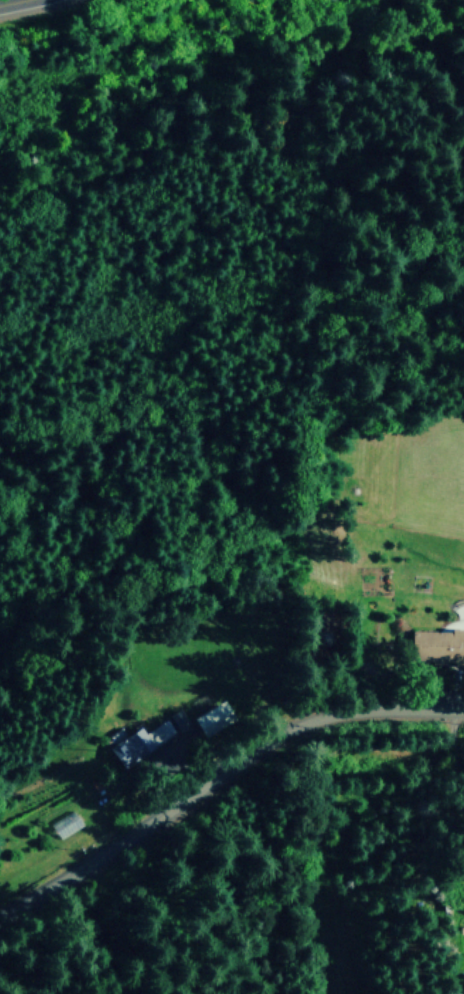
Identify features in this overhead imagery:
road: (6, 1)
building: (438, 643)
building: (210, 715)
building: (179, 718)
building: (140, 741)
road: (453, 759)
road: (219, 776)

